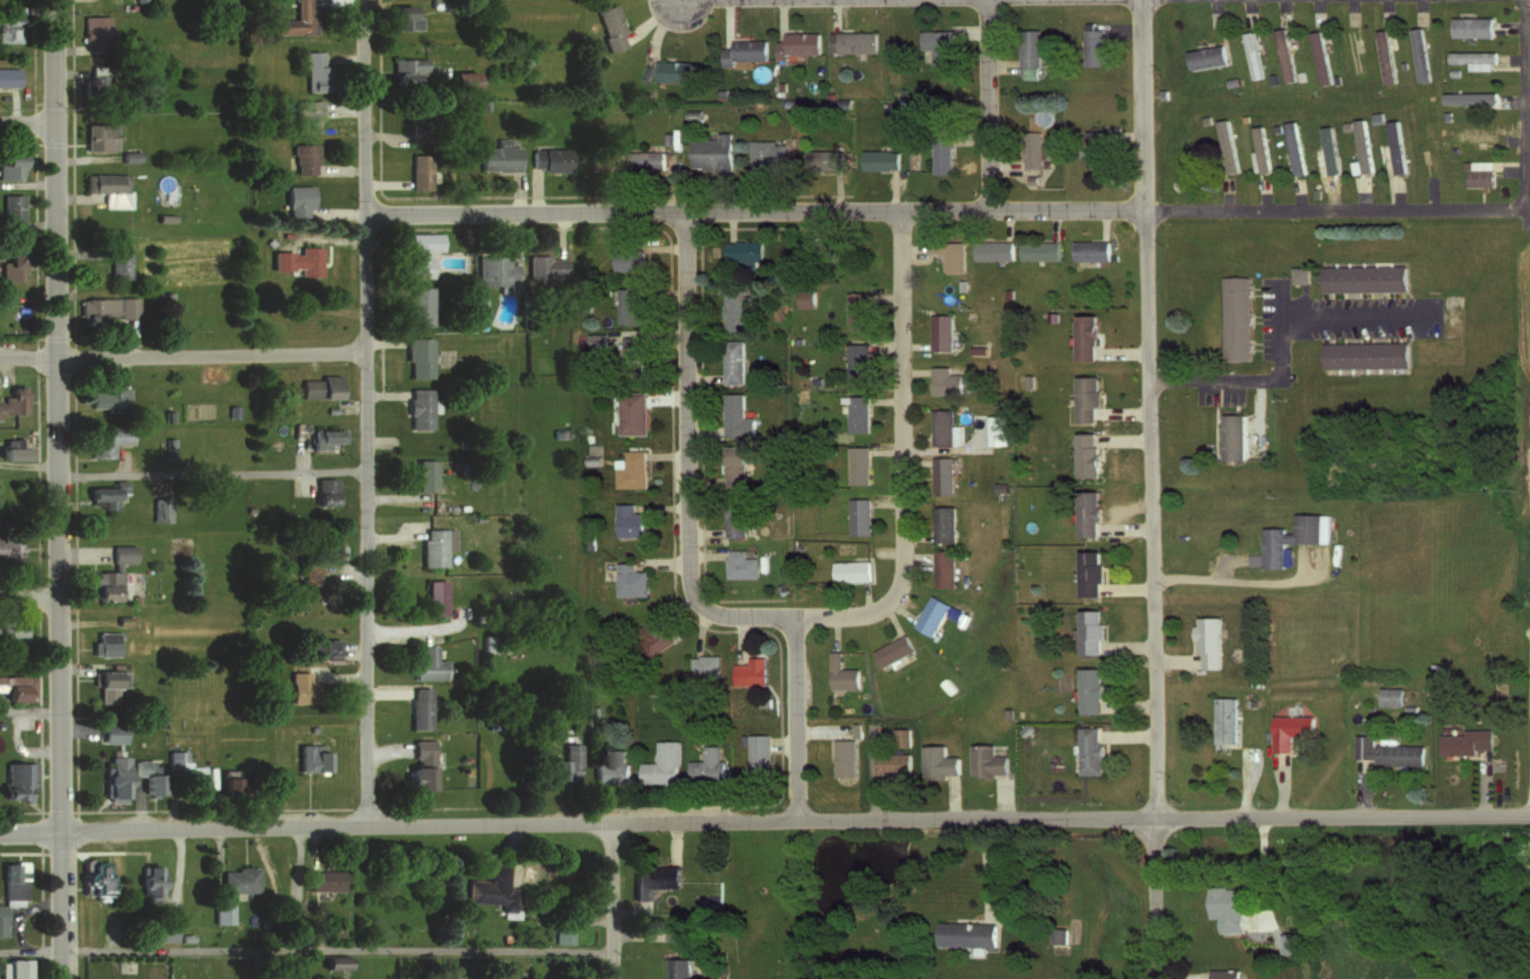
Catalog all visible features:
road: (1283, 8)
road: (1249, 9)
road: (1352, 9)
road: (1387, 9)
road: (1421, 9)
road: (1319, 10)
building: (402, 17)
building: (295, 19)
building: (9, 22)
road: (1115, 23)
road: (1513, 23)
building: (1470, 25)
building: (609, 27)
road: (1219, 28)
building: (95, 30)
building: (853, 41)
building: (799, 43)
building: (937, 46)
building: (1092, 46)
building: (744, 50)
building: (1029, 52)
building: (1250, 52)
building: (1354, 52)
building: (1418, 52)
building: (1284, 53)
building: (1204, 55)
building: (1320, 55)
building: (1383, 55)
building: (1471, 57)
road: (1515, 59)
building: (1403, 62)
road: (1001, 64)
building: (407, 69)
building: (312, 70)
building: (673, 70)
building: (1454, 71)
building: (1299, 74)
building: (7, 76)
building: (1272, 76)
building: (1335, 77)
building: (99, 80)
building: (460, 80)
building: (1231, 80)
building: (1163, 92)
building: (1468, 96)
road: (1514, 97)
road: (990, 105)
building: (419, 114)
building: (1376, 114)
building: (1447, 114)
building: (304, 115)
building: (1243, 116)
building: (1205, 118)
road: (27, 124)
building: (1345, 124)
building: (1276, 126)
road: (1128, 132)
road: (1527, 133)
building: (1473, 136)
building: (98, 137)
road: (1517, 137)
building: (1395, 143)
building: (1225, 144)
building: (1293, 145)
building: (1031, 147)
building: (1094, 147)
building: (1455, 147)
building: (1328, 148)
building: (1259, 149)
building: (1360, 149)
building: (768, 151)
building: (712, 152)
building: (943, 155)
building: (497, 157)
building: (303, 158)
building: (548, 159)
building: (825, 159)
building: (879, 159)
building: (646, 160)
building: (605, 161)
road: (1004, 162)
building: (9, 165)
road: (1513, 165)
building: (418, 171)
building: (1477, 171)
building: (1031, 177)
building: (105, 183)
road: (1299, 194)
road: (1330, 194)
road: (1362, 194)
road: (1433, 194)
road: (1226, 195)
road: (1264, 195)
road: (1399, 196)
building: (296, 200)
road: (945, 210)
building: (9, 211)
road: (1103, 221)
road: (729, 222)
road: (816, 222)
road: (1009, 222)
road: (1055, 222)
road: (29, 243)
building: (1090, 247)
building: (994, 248)
building: (1038, 248)
building: (741, 251)
building: (833, 251)
road: (914, 251)
building: (420, 252)
building: (949, 253)
building: (1113, 254)
building: (630, 260)
building: (9, 261)
building: (118, 262)
building: (545, 268)
building: (494, 271)
building: (1297, 272)
building: (1362, 275)
building: (962, 283)
building: (1009, 292)
building: (805, 295)
road: (888, 295)
building: (417, 305)
building: (631, 305)
building: (858, 308)
building: (105, 309)
building: (735, 311)
building: (1051, 315)
building: (1236, 315)
road: (701, 319)
building: (940, 329)
parking lot: (1315, 330)
building: (1083, 335)
road: (889, 342)
road: (915, 344)
building: (978, 347)
road: (1124, 351)
road: (1284, 351)
building: (1362, 353)
road: (184, 355)
building: (417, 357)
building: (634, 357)
building: (857, 358)
building: (732, 360)
road: (914, 370)
road: (702, 374)
building: (946, 378)
building: (1028, 380)
building: (319, 387)
building: (107, 397)
building: (1086, 397)
road: (888, 398)
building: (13, 400)
building: (419, 408)
road: (1152, 409)
building: (856, 410)
road: (1125, 411)
road: (368, 412)
building: (633, 412)
building: (735, 414)
building: (944, 427)
building: (996, 428)
road: (702, 431)
building: (1229, 434)
building: (325, 437)
road: (1125, 438)
building: (108, 439)
building: (11, 448)
road: (944, 448)
road: (888, 450)
building: (1085, 454)
road: (905, 456)
road: (688, 457)
road: (916, 462)
building: (857, 463)
building: (733, 466)
building: (632, 470)
road: (214, 473)
building: (942, 473)
building: (425, 476)
road: (702, 480)
building: (1000, 486)
road: (60, 489)
building: (325, 492)
building: (101, 495)
road: (888, 500)
building: (160, 509)
building: (1086, 512)
building: (737, 513)
building: (858, 513)
building: (630, 520)
building: (943, 521)
road: (1125, 526)
road: (703, 532)
road: (917, 533)
building: (1291, 537)
building: (9, 546)
building: (436, 546)
road: (890, 550)
building: (1332, 553)
road: (702, 555)
road: (918, 558)
building: (738, 563)
building: (943, 566)
building: (851, 569)
building: (1088, 571)
building: (112, 574)
building: (630, 580)
road: (1240, 580)
building: (780, 585)
road: (1127, 586)
road: (30, 595)
building: (436, 597)
road: (865, 599)
road: (901, 607)
building: (939, 612)
building: (11, 628)
road: (835, 628)
building: (1087, 630)
building: (654, 637)
building: (1207, 639)
building: (486, 643)
road: (1130, 643)
building: (104, 644)
building: (322, 648)
building: (892, 648)
road: (1175, 657)
building: (1435, 664)
building: (429, 665)
building: (705, 666)
building: (841, 671)
building: (750, 672)
building: (109, 678)
building: (947, 684)
building: (17, 685)
building: (301, 688)
building: (1088, 688)
building: (1389, 694)
road: (1130, 703)
building: (1410, 707)
building: (420, 708)
building: (1007, 710)
road: (30, 712)
building: (1018, 712)
road: (798, 717)
building: (1223, 718)
building: (1288, 727)
road: (823, 728)
building: (855, 728)
building: (108, 733)
road: (1130, 734)
building: (901, 737)
building: (1465, 740)
road: (23, 747)
building: (1088, 749)
building: (1384, 749)
building: (759, 755)
building: (845, 755)
building: (311, 758)
building: (985, 759)
building: (937, 761)
building: (891, 762)
building: (663, 764)
building: (566, 765)
building: (420, 767)
building: (708, 767)
building: (612, 769)
road: (869, 771)
building: (185, 773)
building: (147, 776)
building: (15, 777)
building: (113, 779)
road: (1243, 783)
building: (232, 786)
road: (1481, 786)
road: (1282, 787)
road: (1362, 788)
road: (953, 797)
road: (1002, 797)
road: (1165, 818)
road: (399, 824)
road: (672, 838)
road: (217, 846)
road: (513, 851)
road: (295, 860)
road: (990, 866)
road: (176, 869)
road: (1263, 870)
building: (653, 876)
building: (93, 877)
building: (237, 878)
building: (323, 878)
building: (149, 881)
building: (12, 882)
building: (491, 887)
road: (1158, 898)
road: (613, 900)
building: (1226, 904)
building: (289, 907)
building: (221, 910)
building: (1, 920)
road: (595, 920)
road: (107, 927)
building: (561, 928)
building: (165, 929)
building: (450, 930)
building: (966, 932)
building: (1057, 933)
road: (647, 935)
building: (187, 936)
building: (502, 936)
building: (1286, 942)
road: (306, 948)
building: (332, 960)
building: (689, 966)
building: (15, 969)
building: (1223, 973)
road: (1181, 975)
building: (447, 977)

